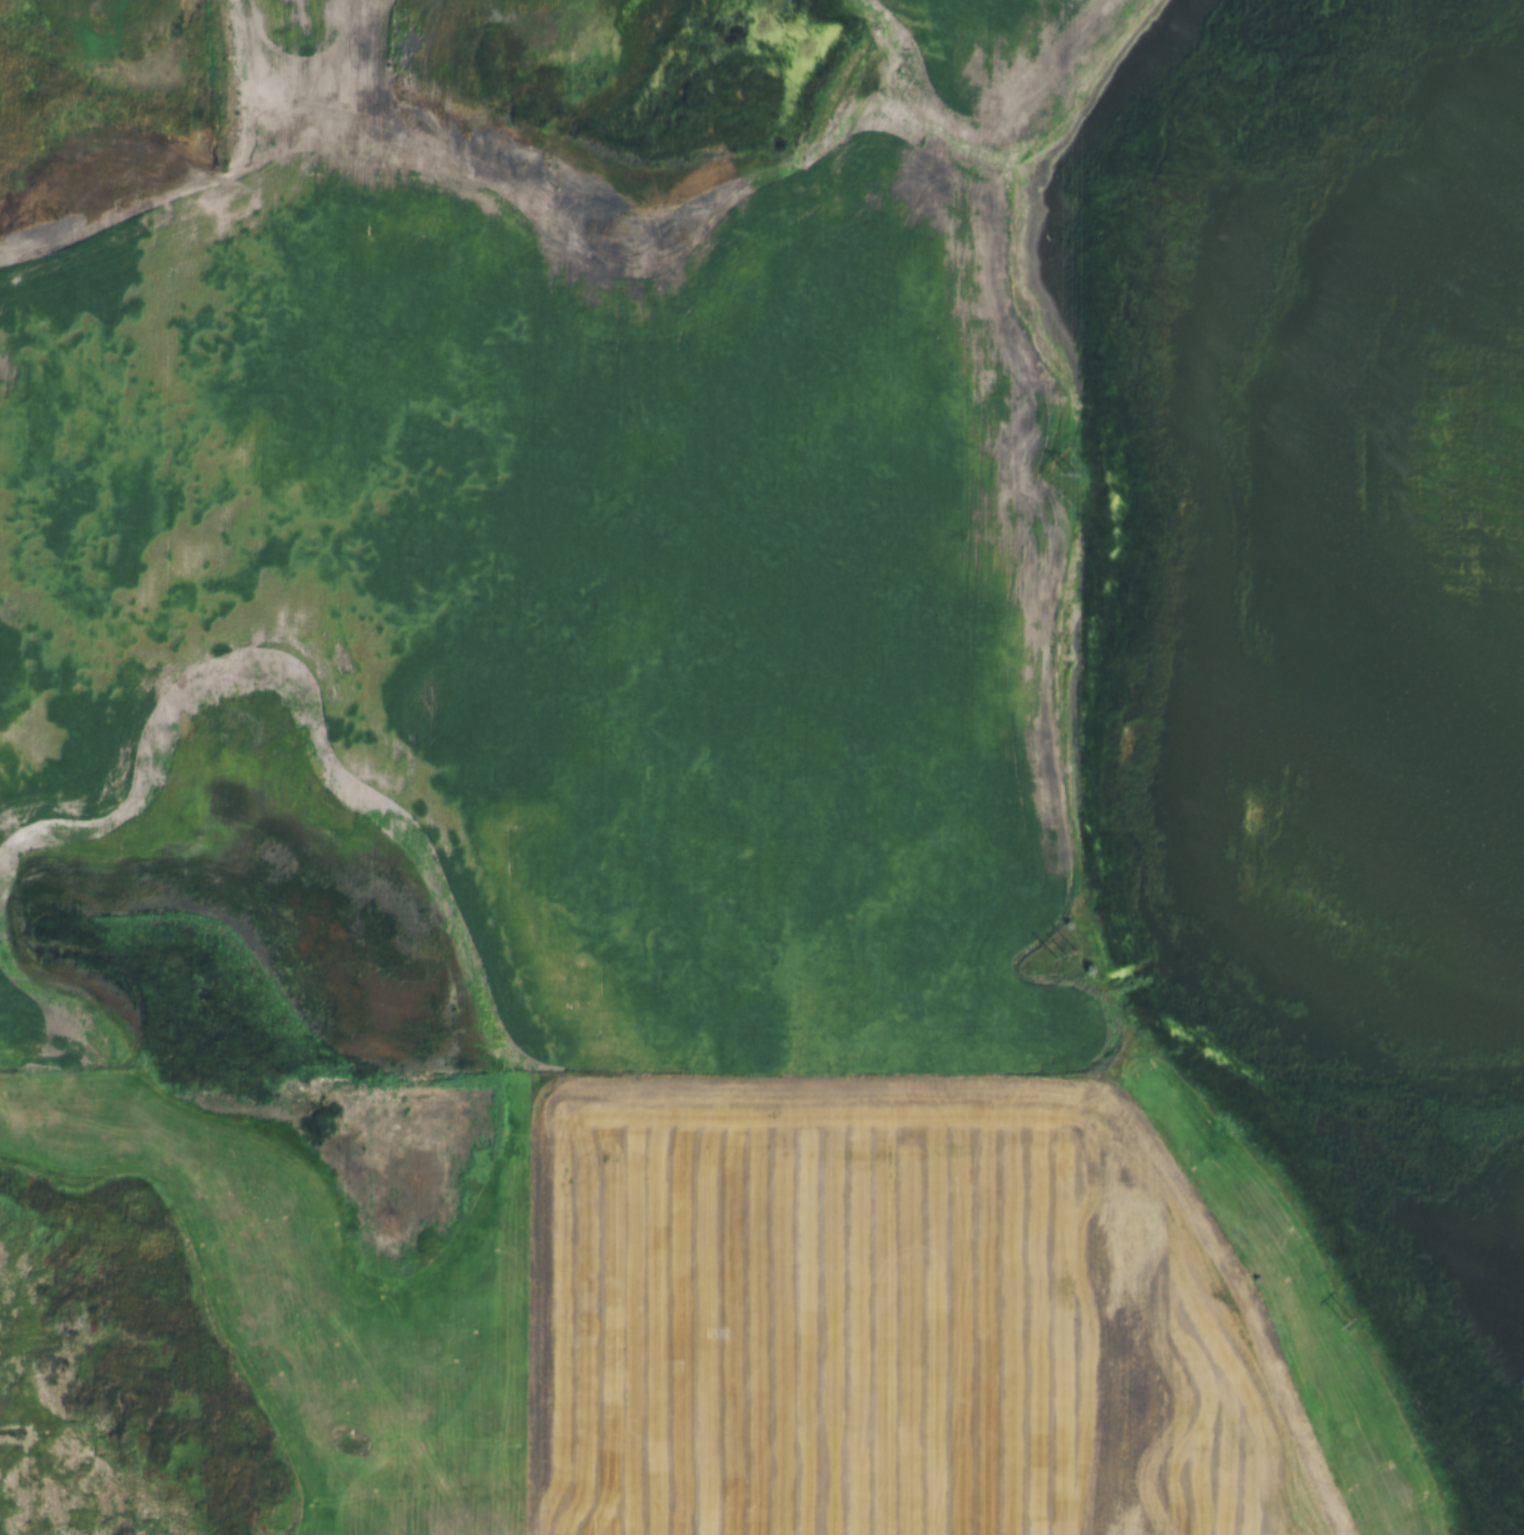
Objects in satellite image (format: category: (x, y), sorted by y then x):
power tower: (1069, 472)
power tower: (1059, 951)
power tower: (1338, 1322)

